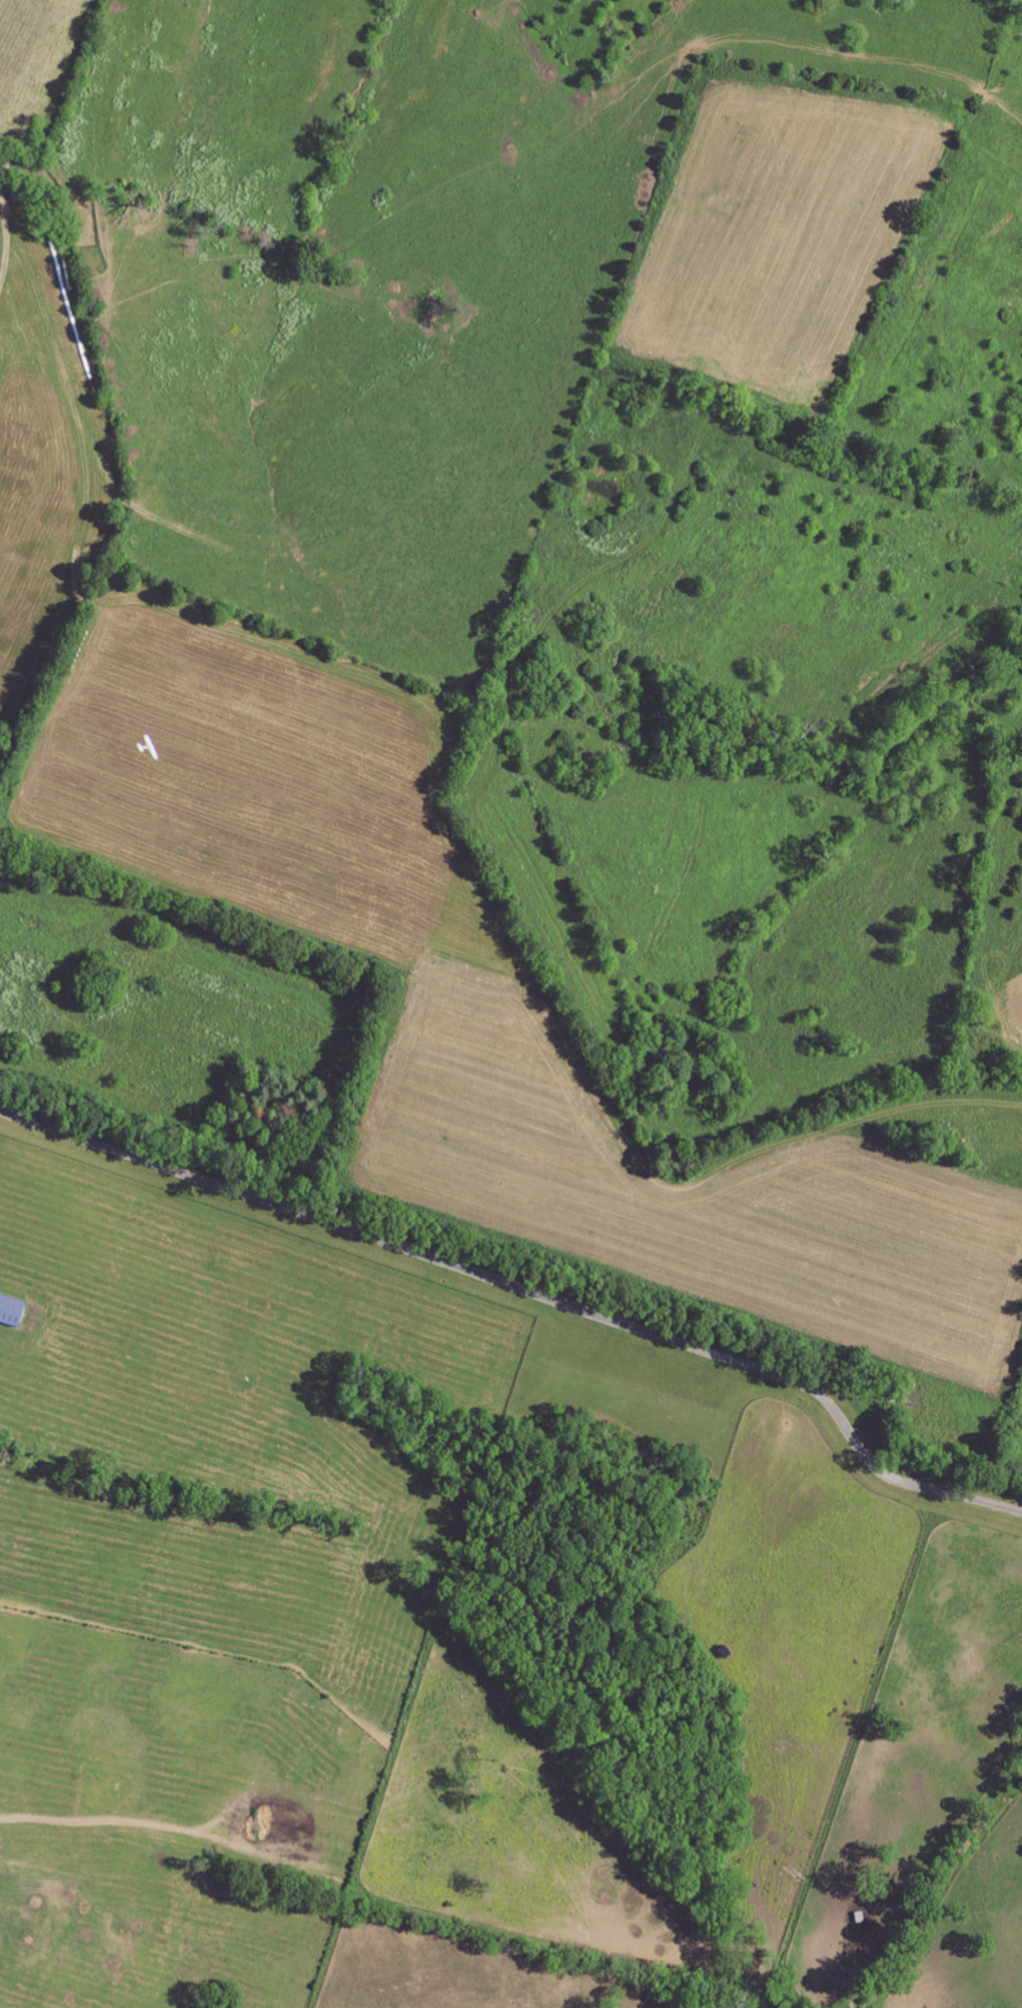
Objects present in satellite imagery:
road: (6, 238)
road: (525, 1290)
building: (10, 1313)
road: (853, 2001)

